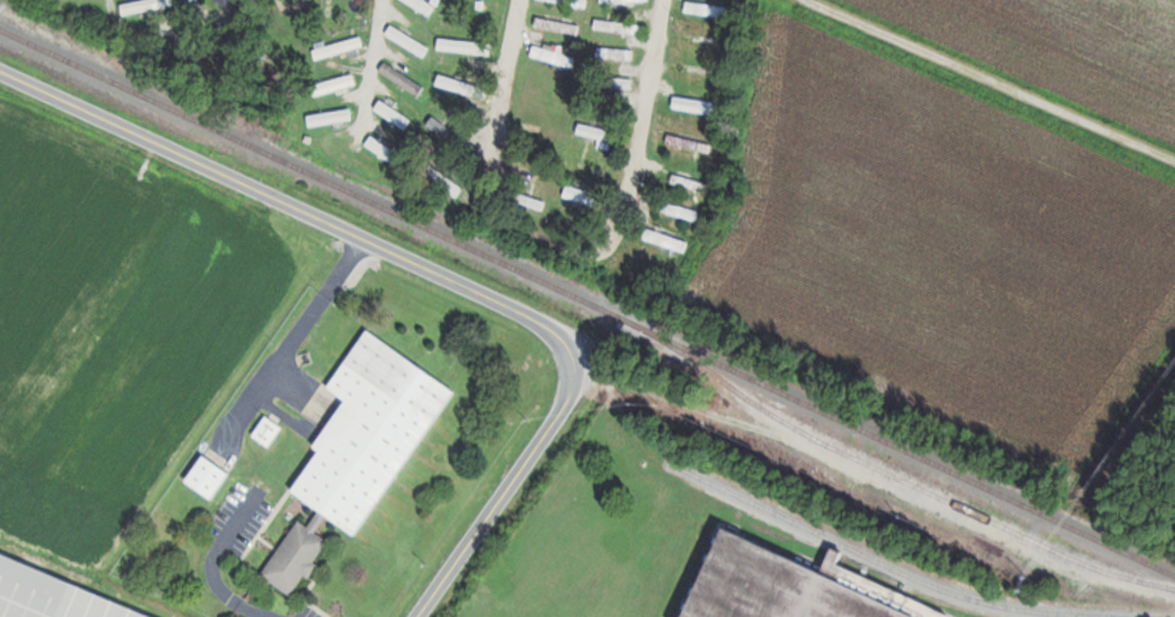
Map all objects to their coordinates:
building: (227, 0)
building: (567, 0)
building: (629, 0)
building: (425, 4)
building: (147, 5)
building: (409, 40)
building: (462, 45)
building: (707, 46)
building: (340, 47)
building: (621, 52)
building: (551, 53)
road: (375, 61)
building: (405, 78)
building: (455, 80)
road: (509, 83)
building: (337, 84)
road: (651, 101)
building: (697, 105)
building: (396, 113)
building: (333, 117)
building: (452, 134)
building: (603, 135)
building: (385, 148)
building: (592, 163)
building: (528, 166)
building: (444, 180)
building: (692, 184)
building: (586, 195)
road: (279, 196)
building: (682, 211)
building: (668, 240)
railway: (586, 300)
road: (302, 331)
building: (362, 449)
railway: (889, 471)
road: (526, 476)
building: (210, 477)
railway: (889, 563)
road: (216, 565)
building: (796, 587)
building: (53, 597)

